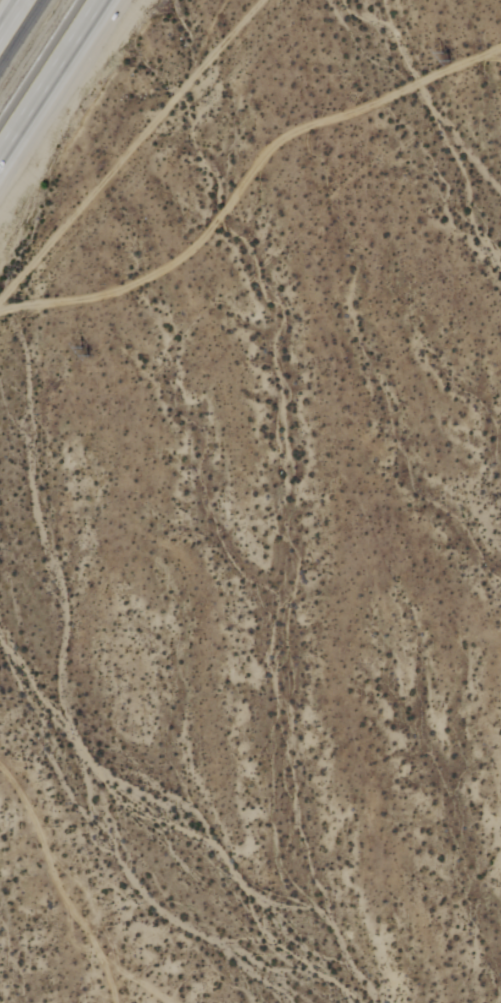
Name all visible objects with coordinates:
road: (10, 15)
railway: (28, 43)
road: (50, 78)

